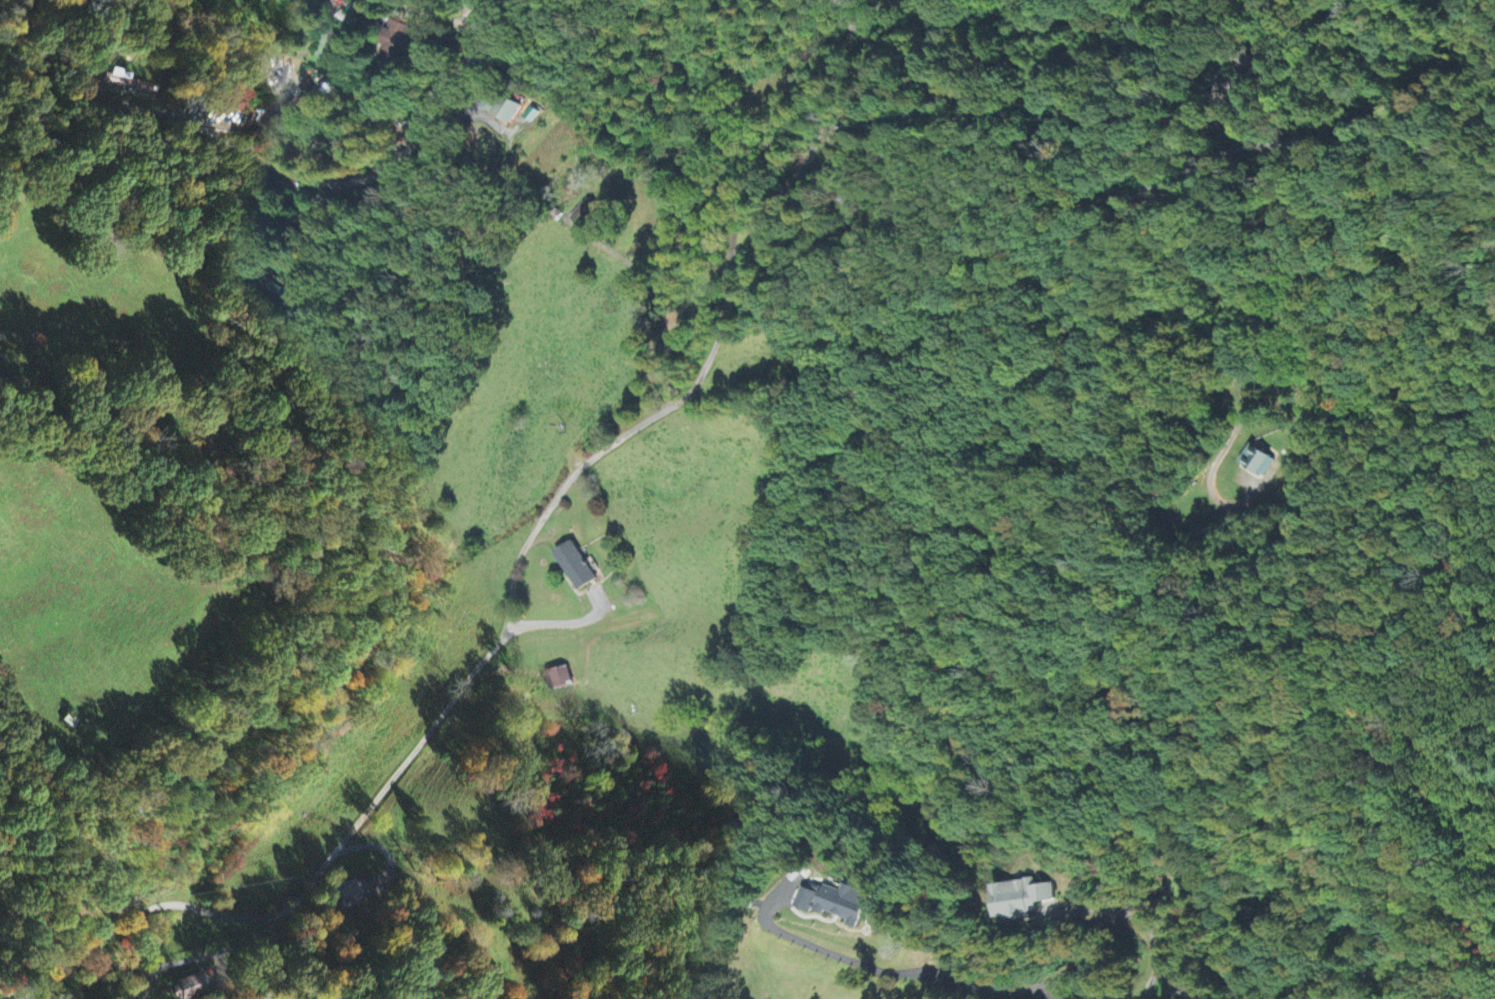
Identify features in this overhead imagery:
road: (463, 11)
building: (392, 45)
building: (331, 46)
building: (506, 109)
road: (1069, 174)
road: (336, 184)
building: (585, 215)
building: (1257, 463)
building: (575, 568)
building: (559, 680)
road: (431, 736)
road: (1194, 887)
building: (347, 896)
building: (1020, 898)
building: (836, 904)
building: (193, 986)
road: (150, 992)
road: (1016, 993)

